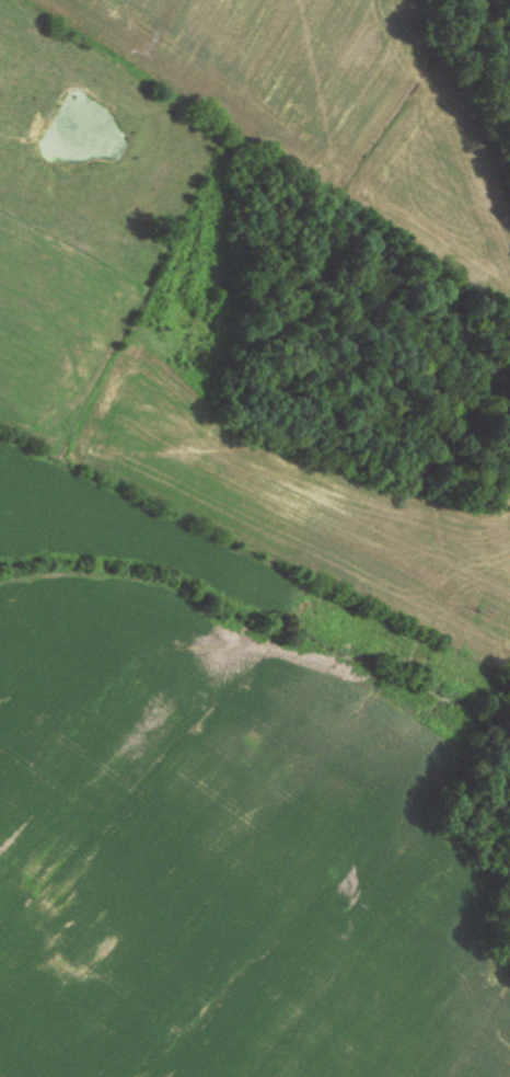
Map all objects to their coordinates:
road: (189, 148)

